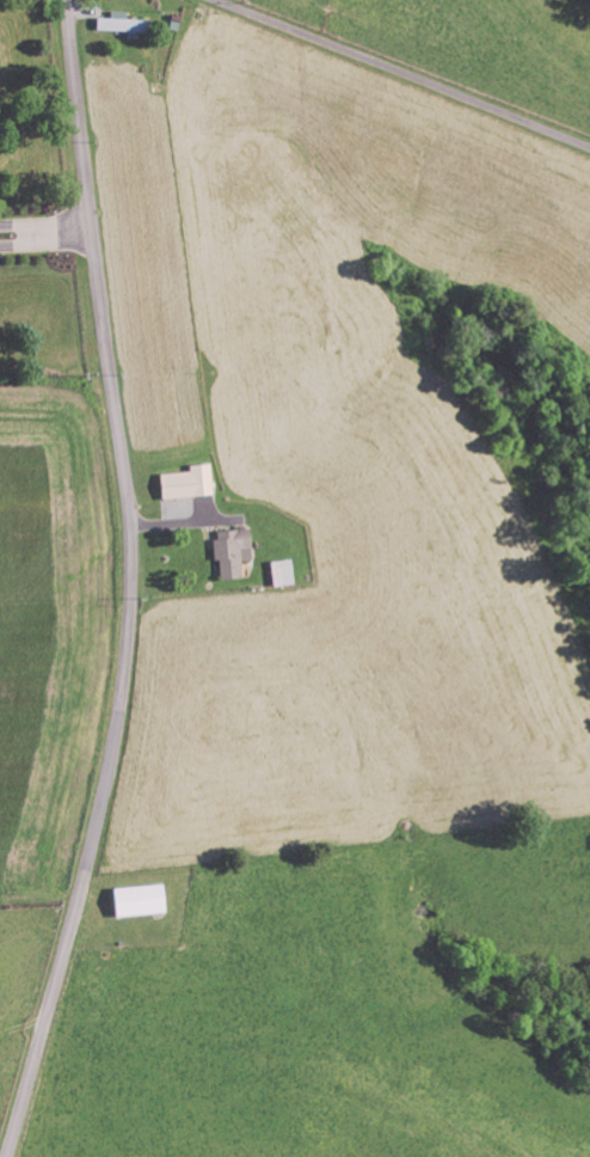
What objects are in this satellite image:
building: (121, 25)
road: (399, 74)
road: (45, 222)
building: (185, 483)
building: (229, 551)
building: (281, 573)
road: (133, 583)
building: (136, 900)

